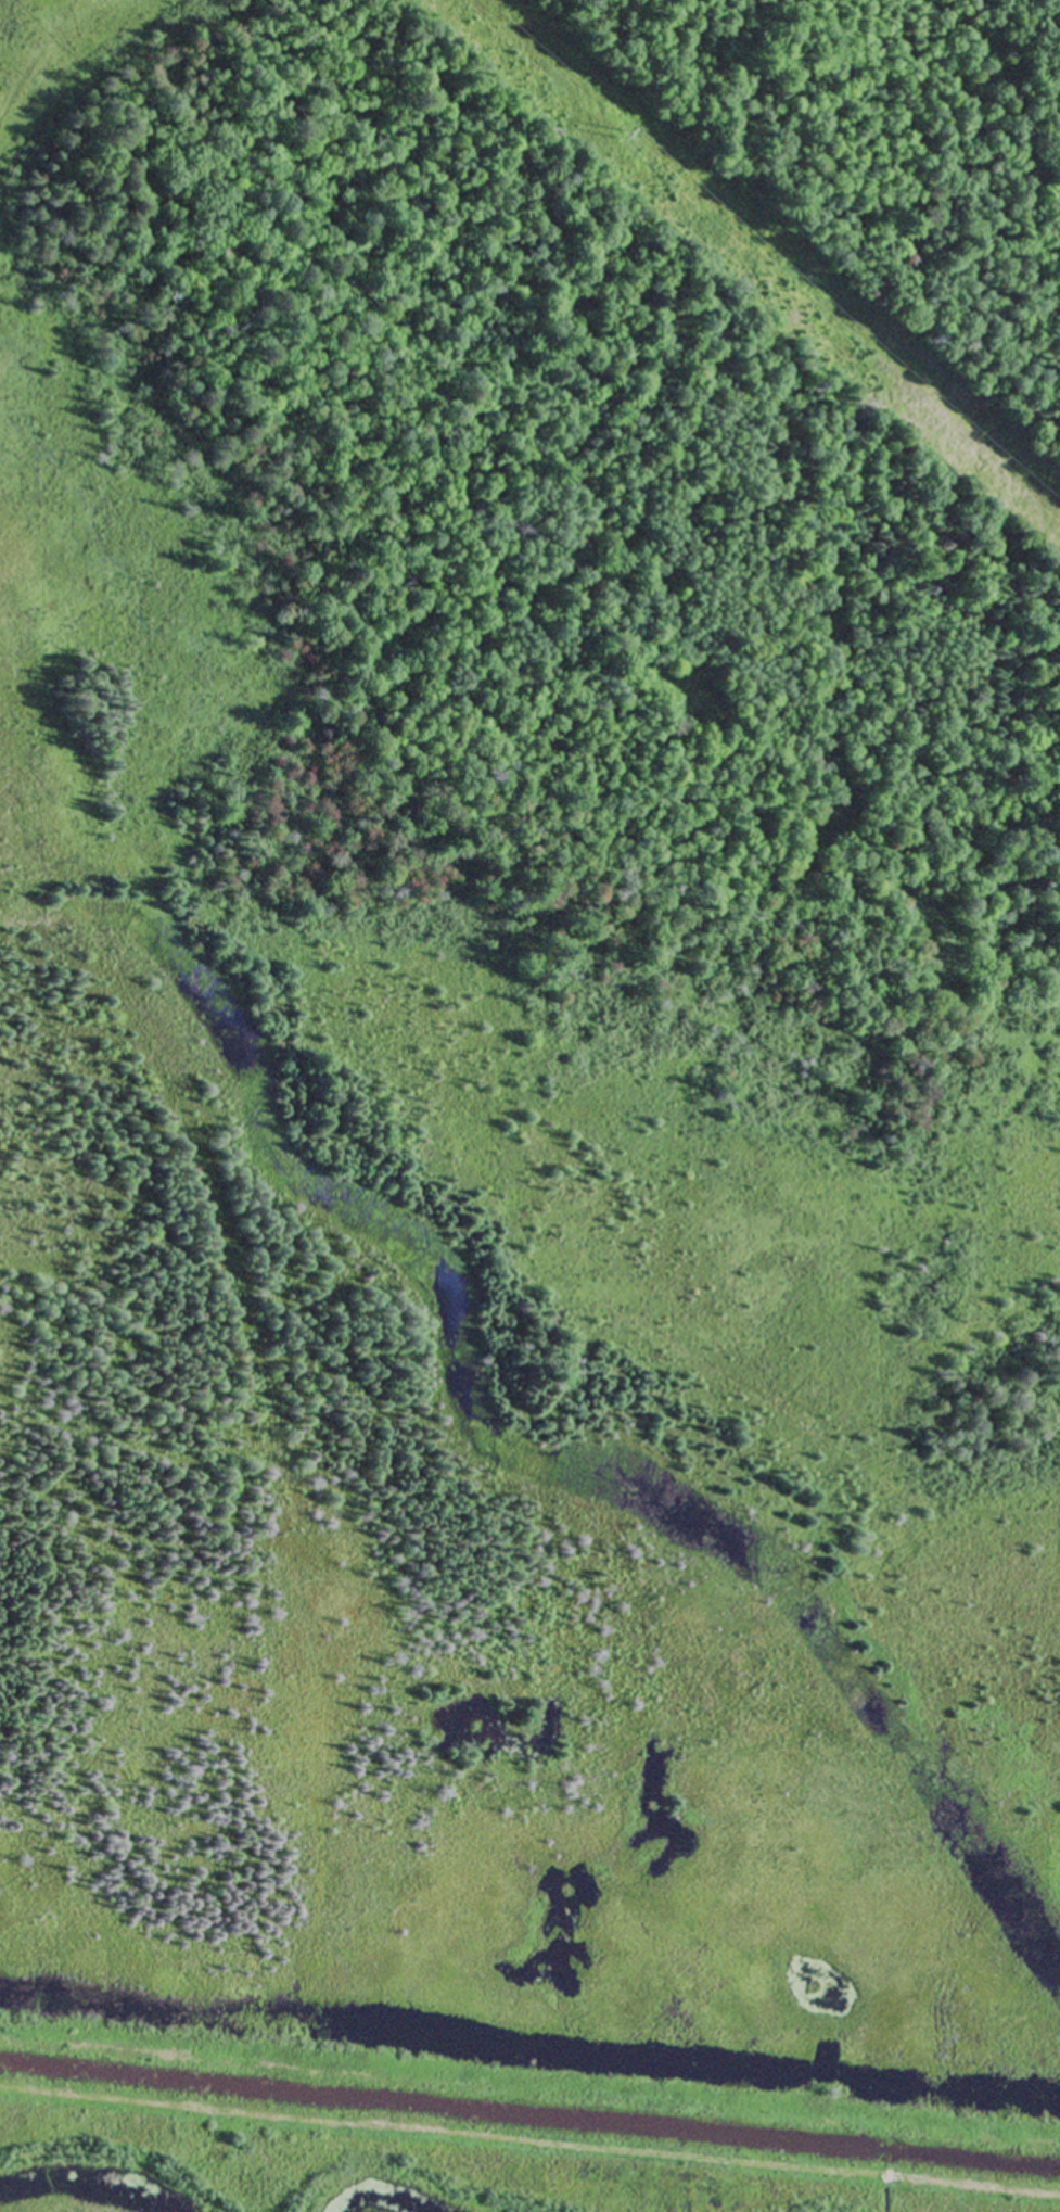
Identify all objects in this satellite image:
power tower: (612, 136)

